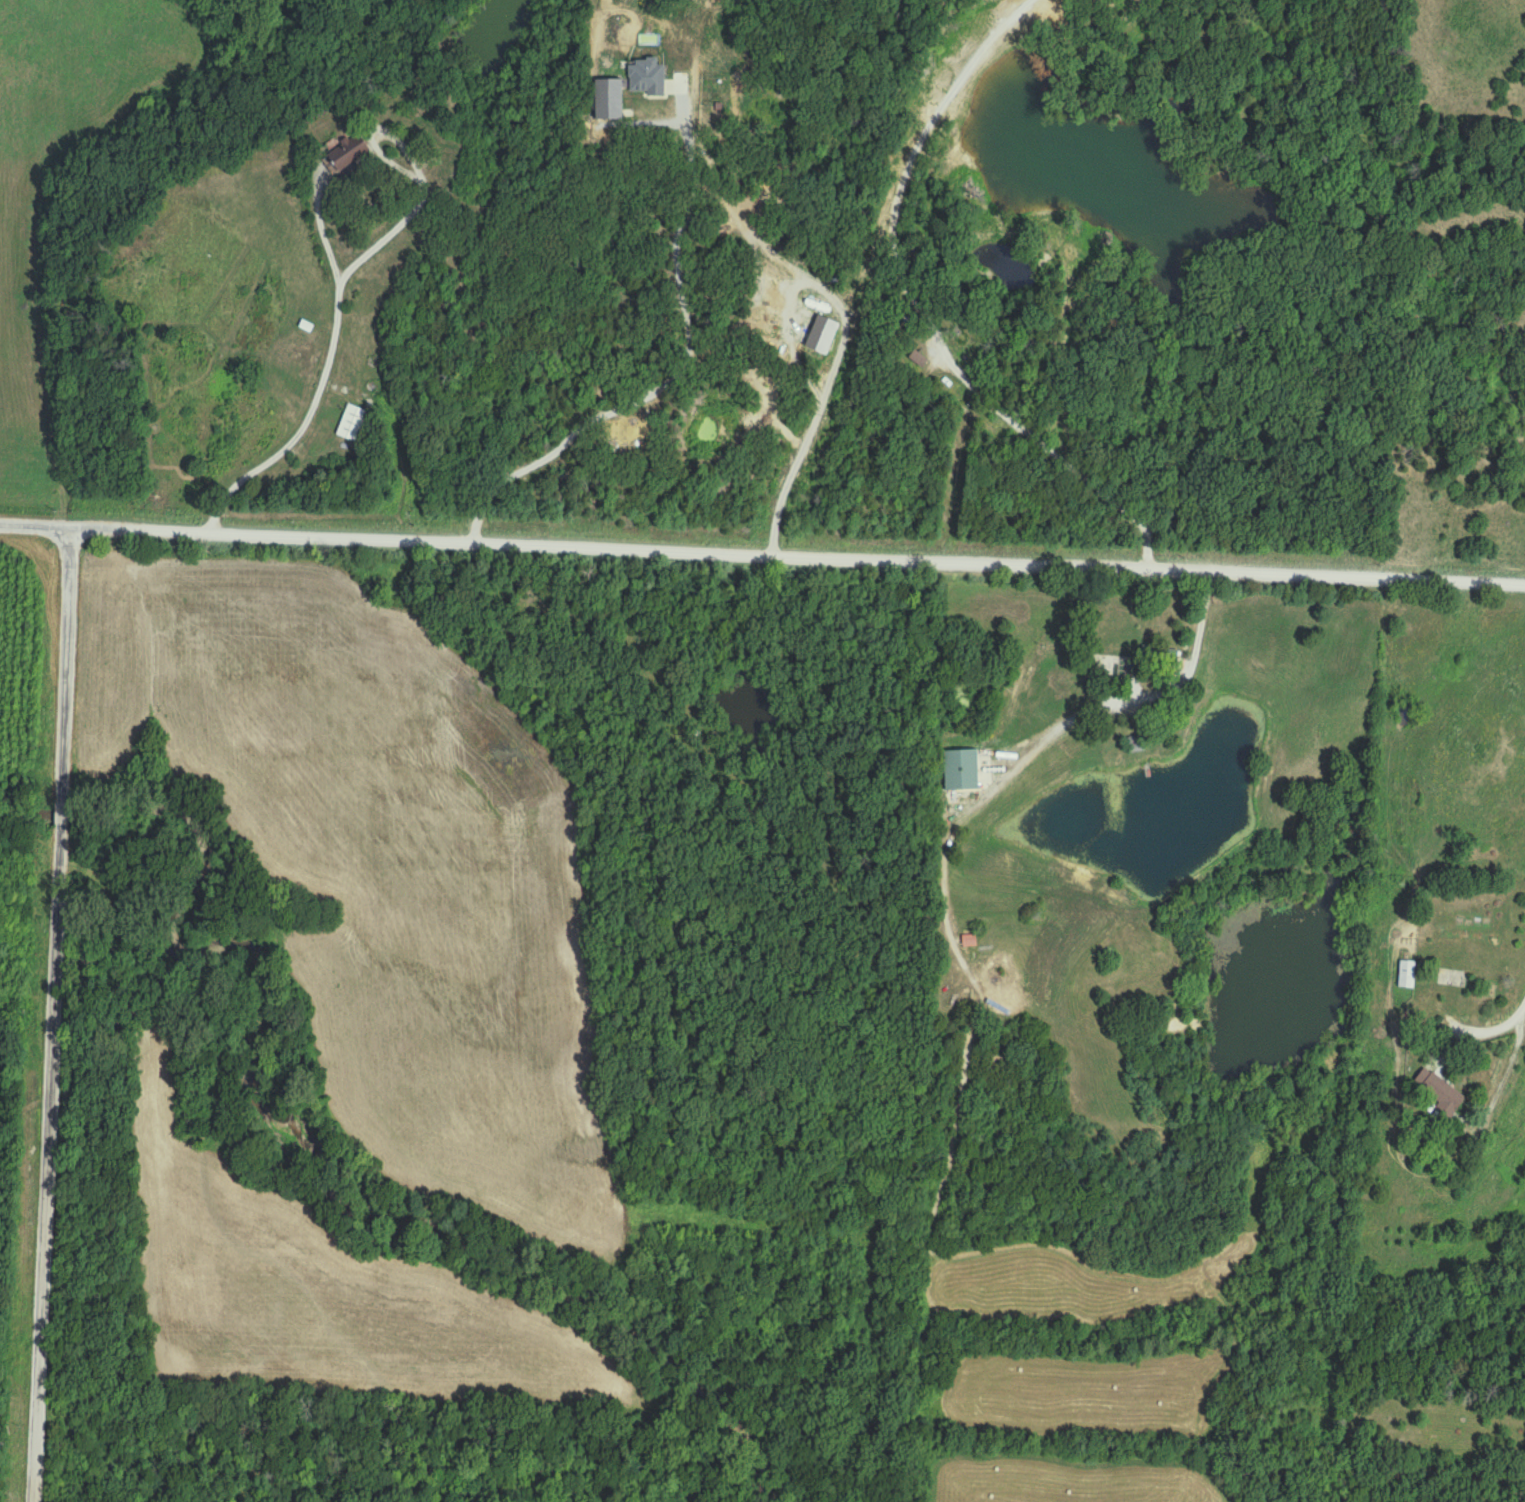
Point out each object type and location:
building: (347, 153)
road: (840, 342)
building: (917, 360)
road: (324, 370)
road: (669, 375)
building: (356, 425)
road: (36, 525)
road: (798, 559)
building: (1160, 655)
road: (1115, 699)
building: (1135, 744)
building: (957, 770)
building: (1407, 974)
road: (56, 1014)
road: (1498, 1026)
building: (1439, 1095)

